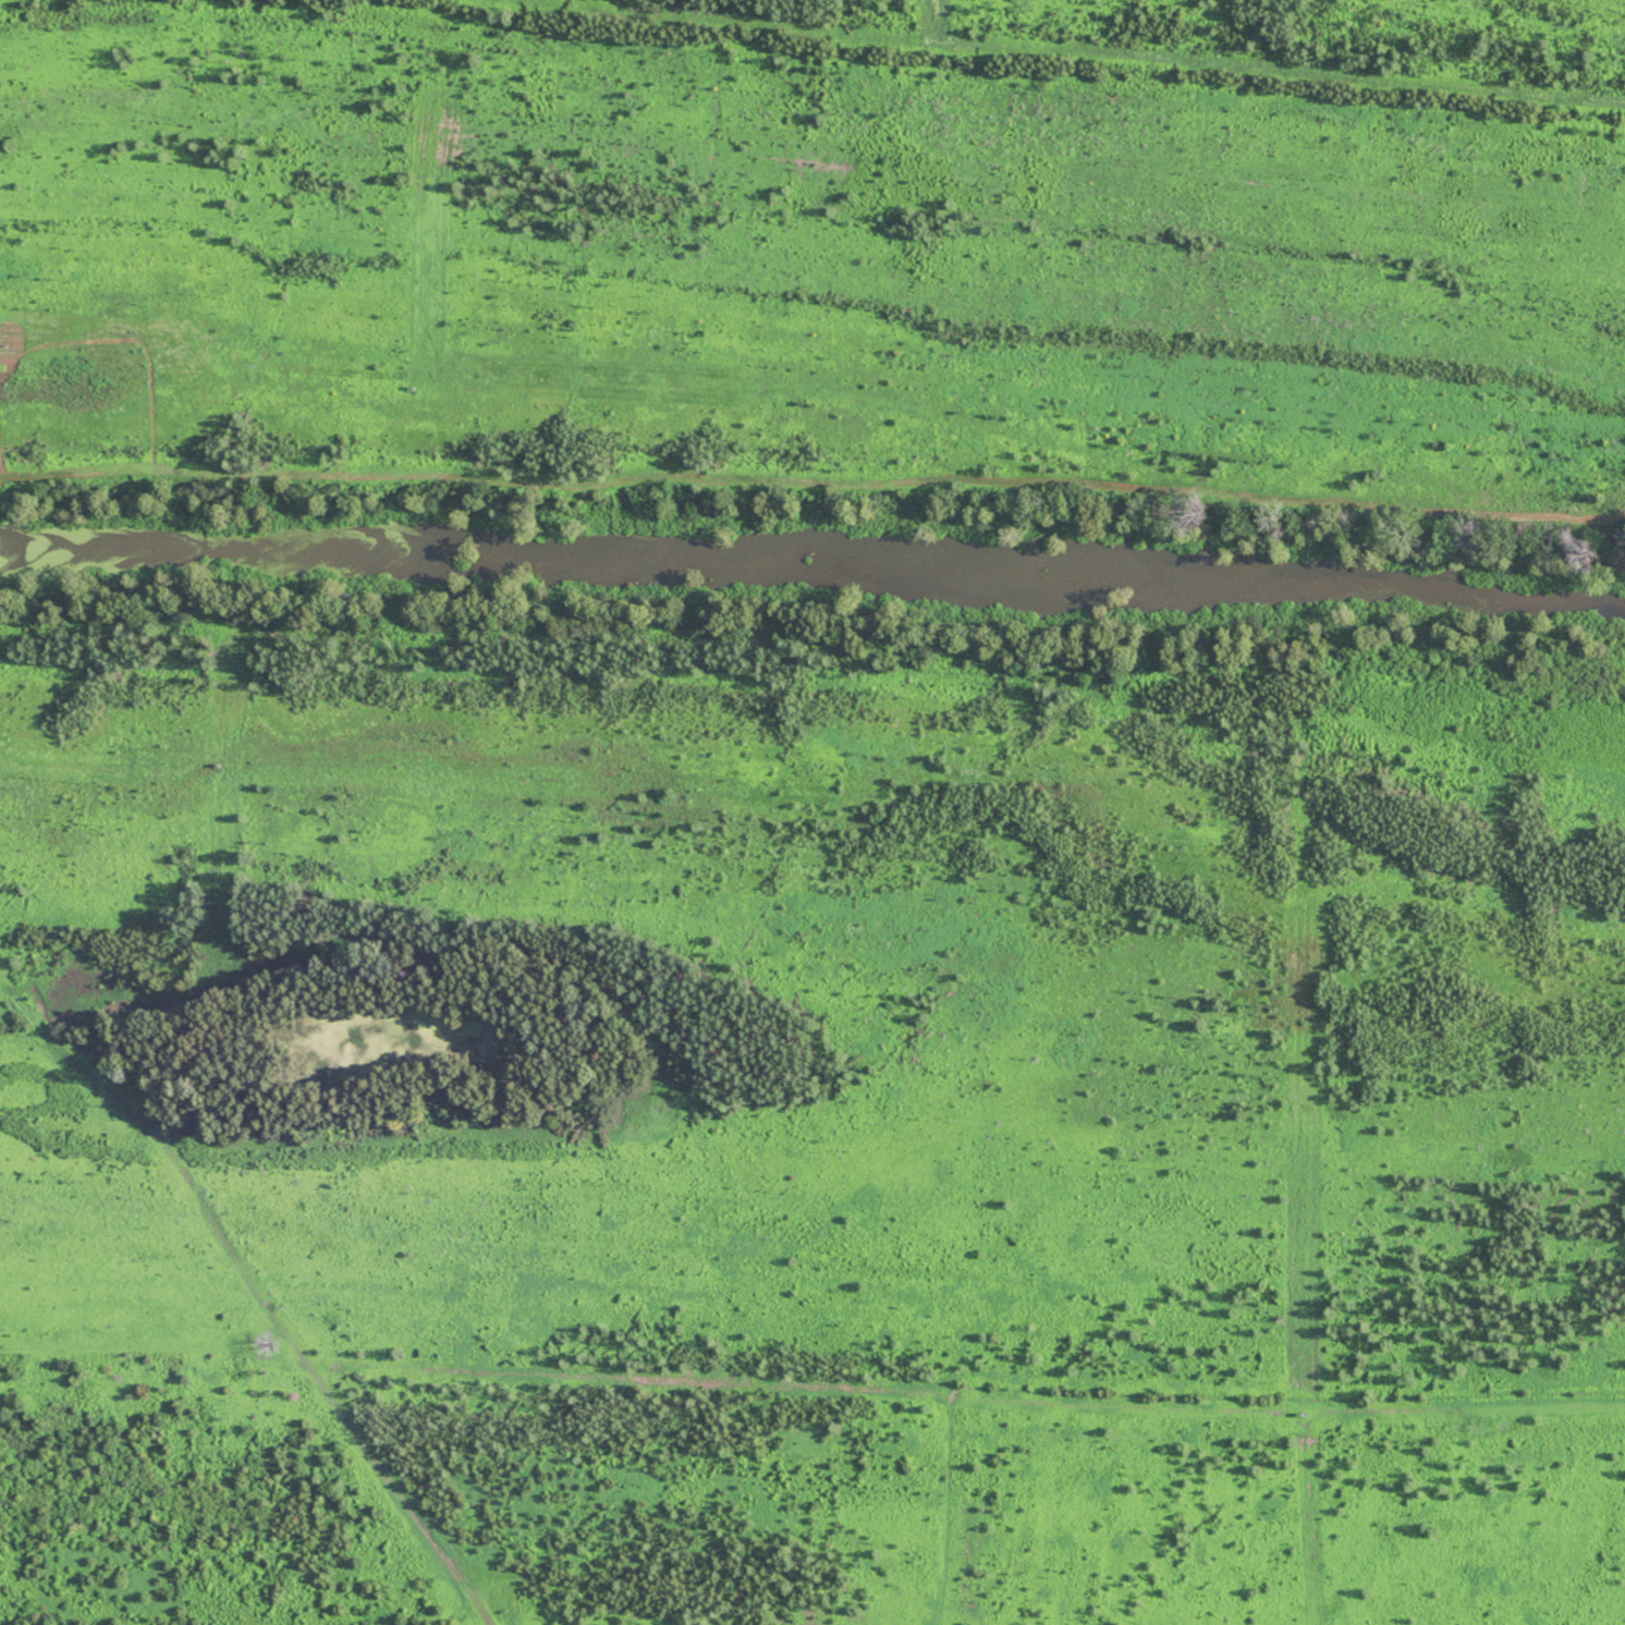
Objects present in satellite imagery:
road: (257, 1296)

